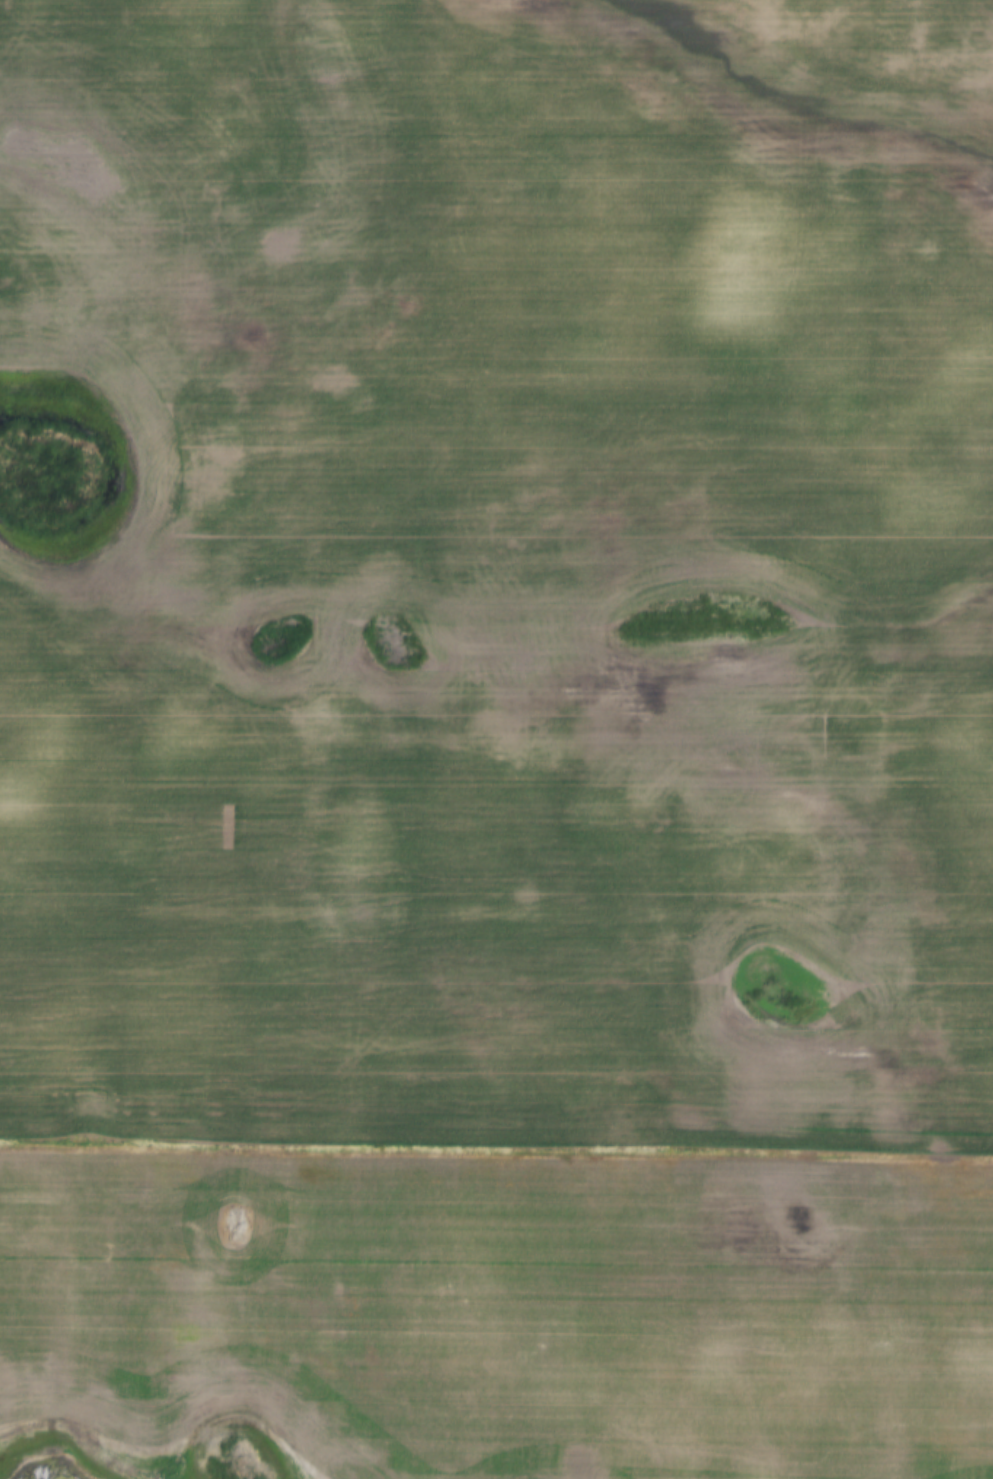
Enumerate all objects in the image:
road: (496, 1150)

